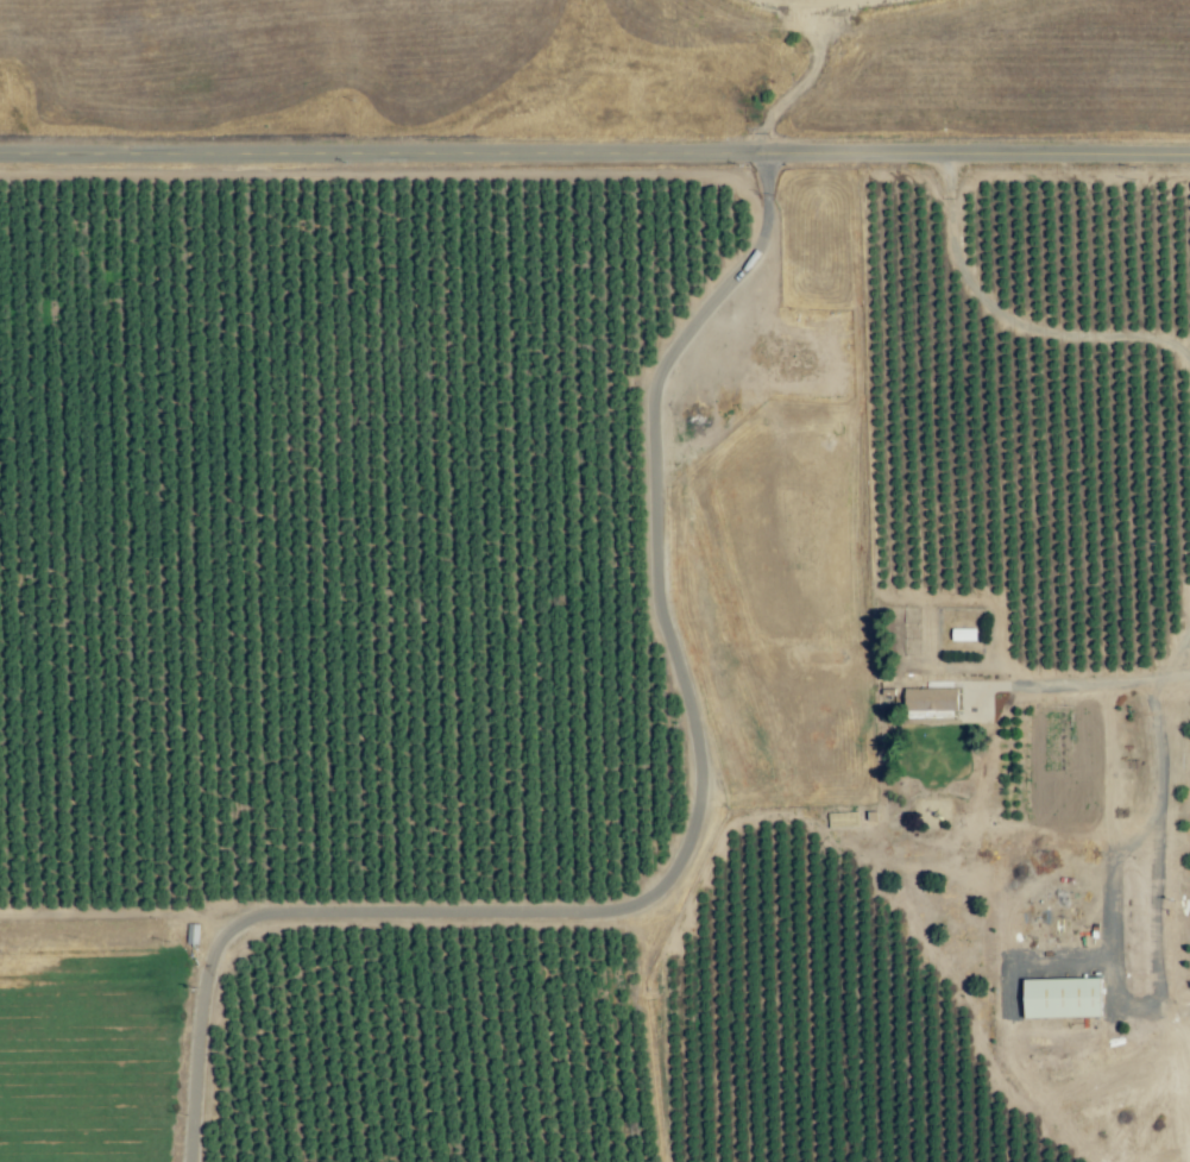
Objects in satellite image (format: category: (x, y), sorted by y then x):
road: (594, 153)
road: (1013, 318)
building: (963, 634)
road: (1170, 667)
road: (1062, 683)
crop: (388, 699)
building: (931, 699)
road: (1150, 703)
building: (843, 821)
road: (686, 841)
building: (1063, 998)
road: (1170, 1001)
road: (1128, 1003)

